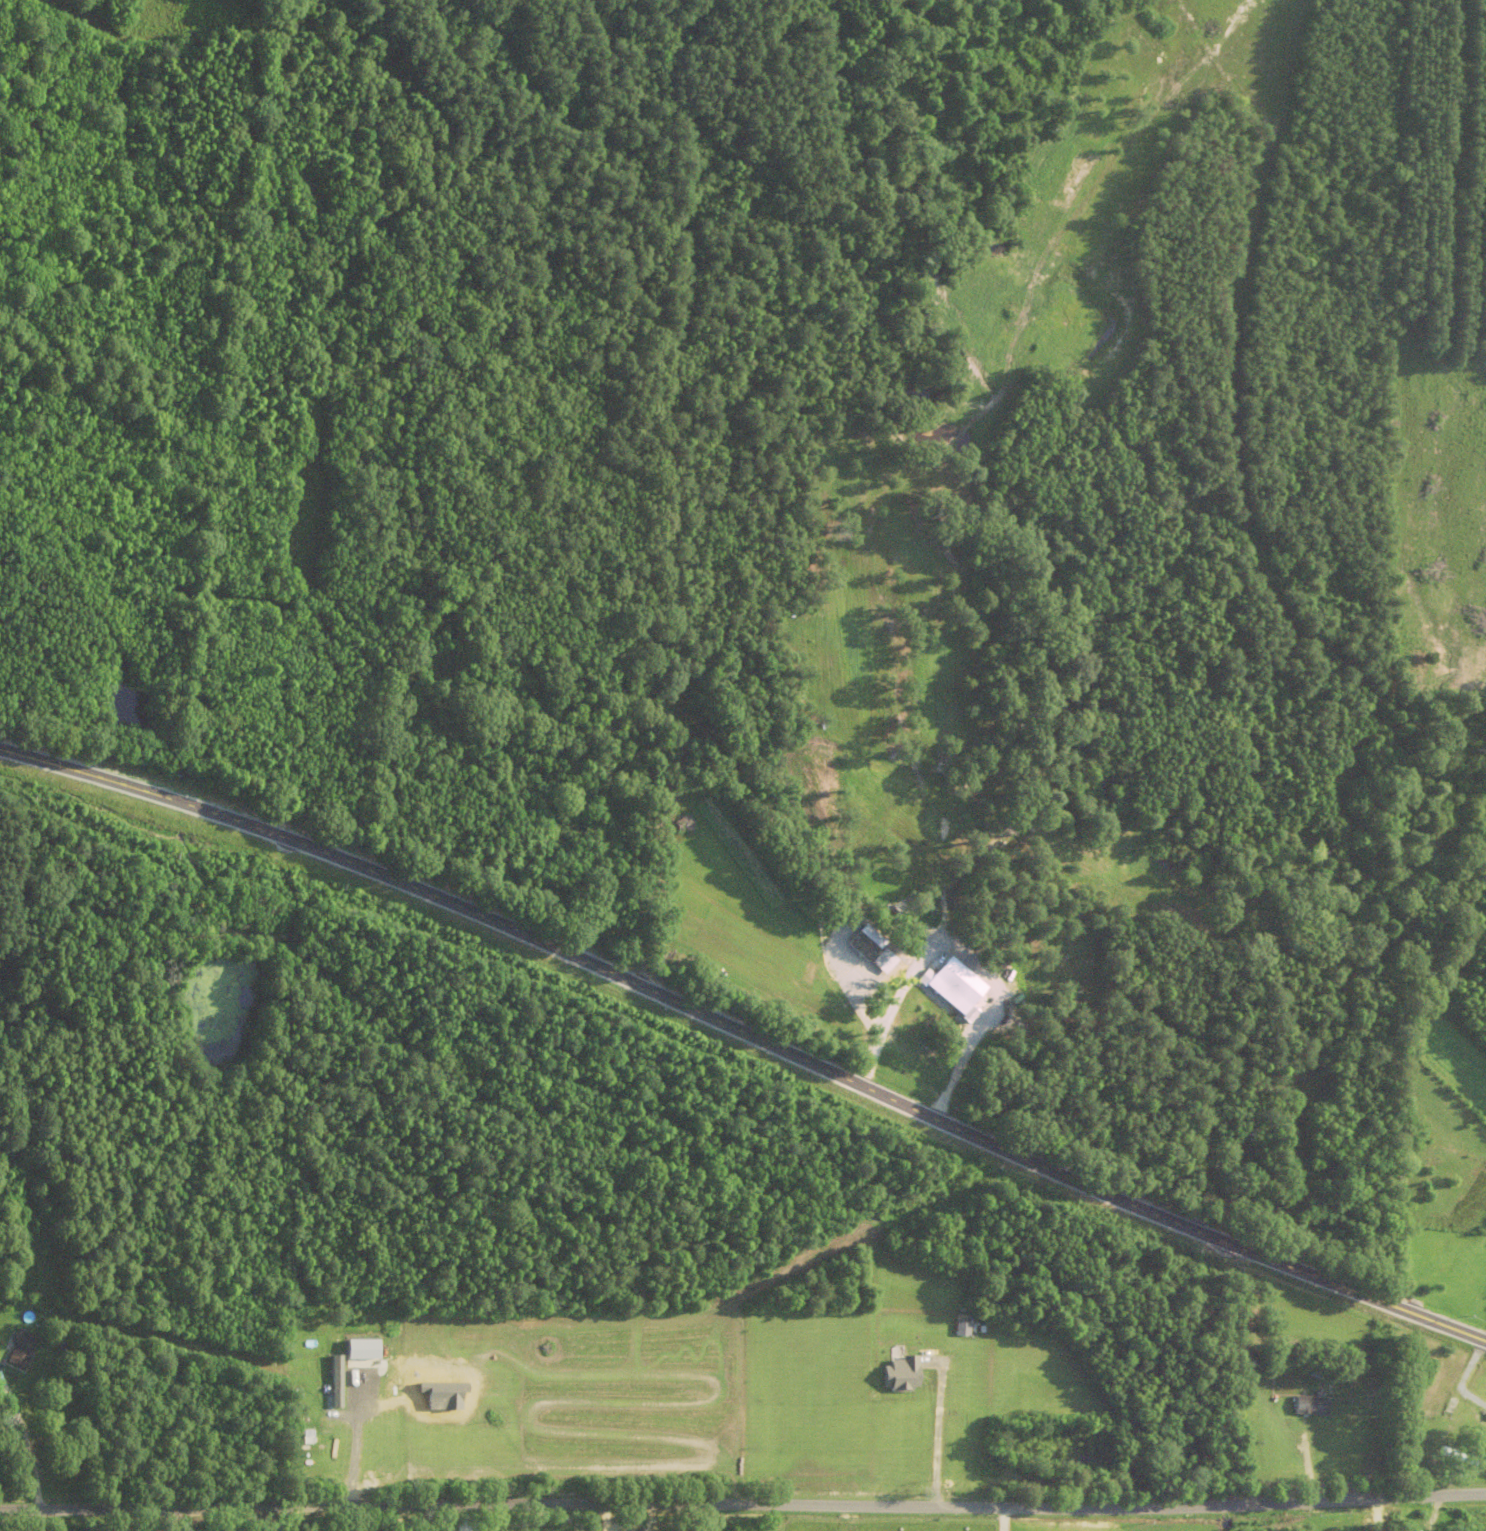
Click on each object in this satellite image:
river: (1059, 653)
building: (868, 941)
road: (963, 954)
building: (885, 960)
road: (847, 978)
building: (957, 984)
road: (747, 1032)
building: (913, 1049)
building: (962, 1326)
road: (1485, 1339)
building: (24, 1346)
building: (903, 1373)
road: (1461, 1377)
building: (337, 1380)
building: (1312, 1403)
road: (937, 1427)
road: (24, 1440)
road: (354, 1445)
building: (1455, 1454)
road: (743, 1503)
road: (1377, 1513)
road: (603, 1516)
road: (1002, 1519)
building: (1417, 1530)

